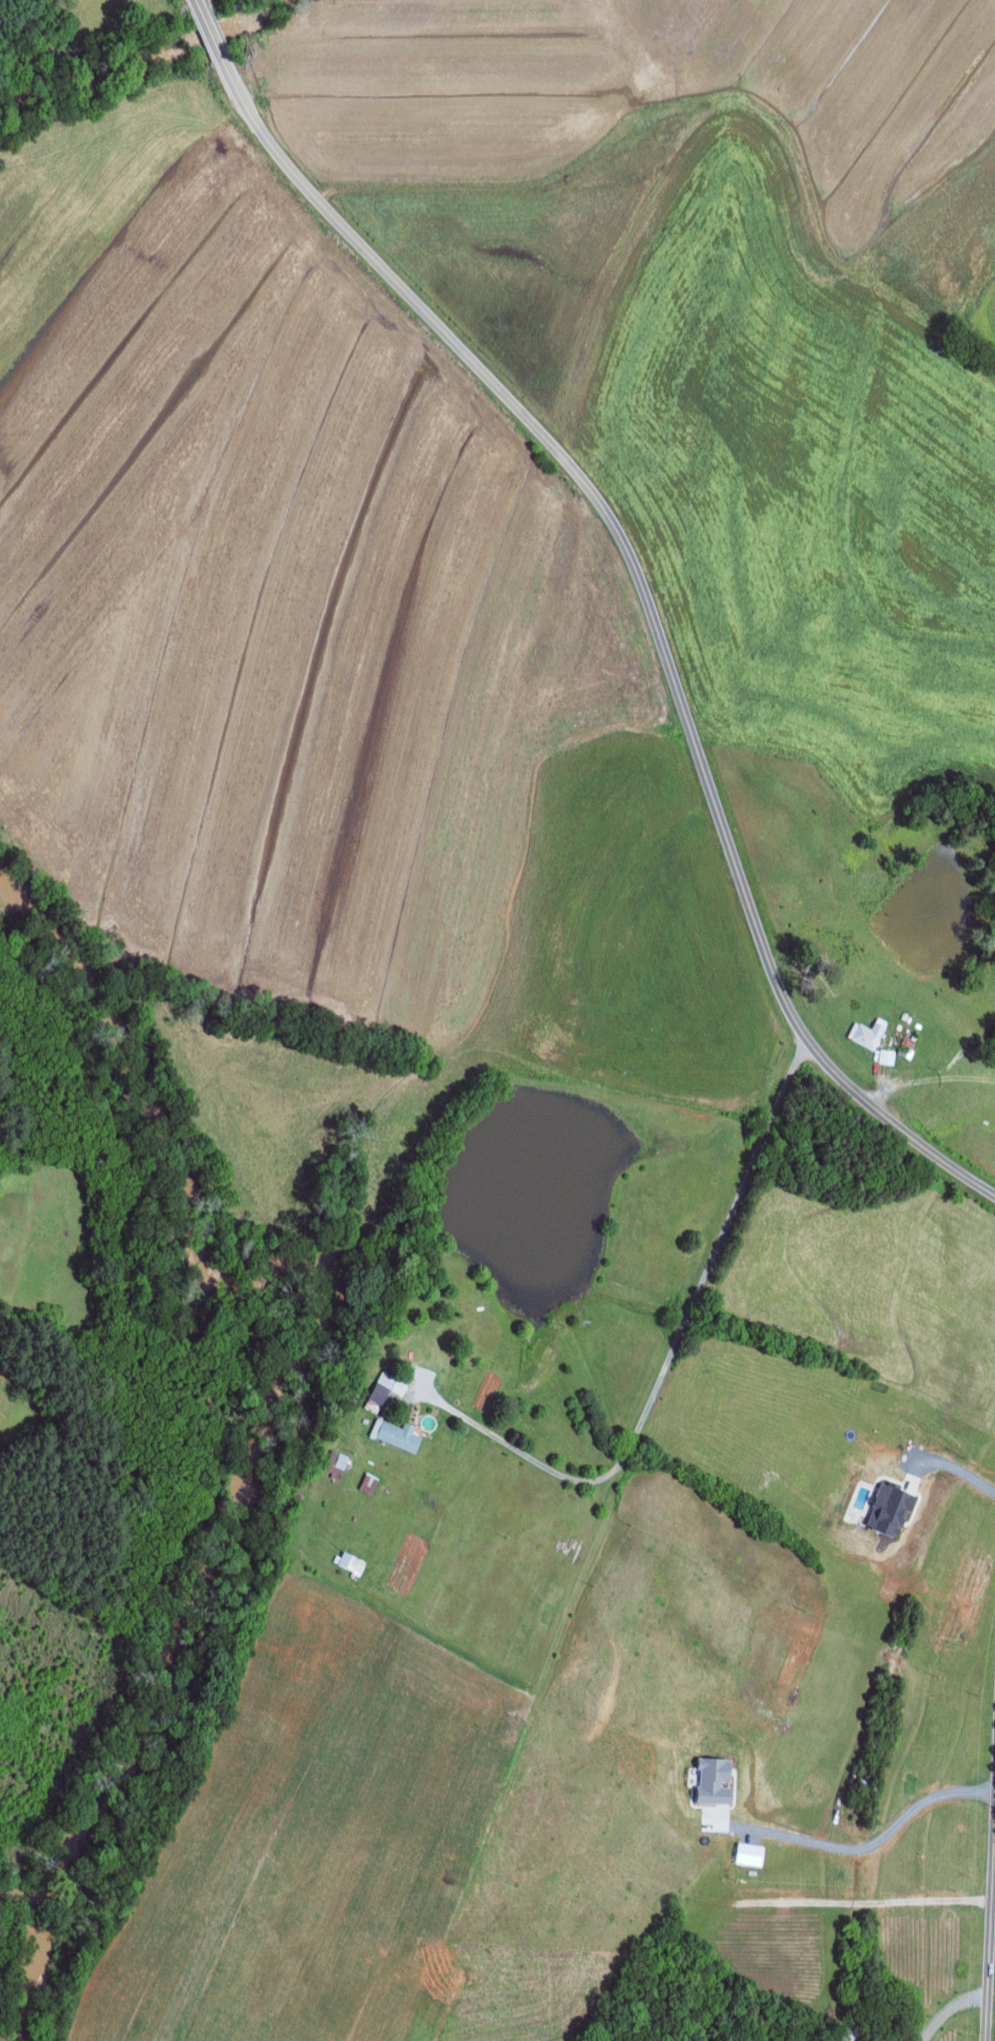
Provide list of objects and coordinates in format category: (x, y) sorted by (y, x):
road: (198, 7)
road: (210, 33)
road: (650, 608)
building: (867, 1034)
building: (886, 1056)
road: (926, 1078)
road: (669, 1358)
building: (387, 1386)
building: (397, 1435)
building: (335, 1464)
road: (963, 1474)
building: (370, 1483)
building: (890, 1508)
building: (716, 1780)
road: (865, 1855)
road: (989, 1905)
road: (952, 2016)

